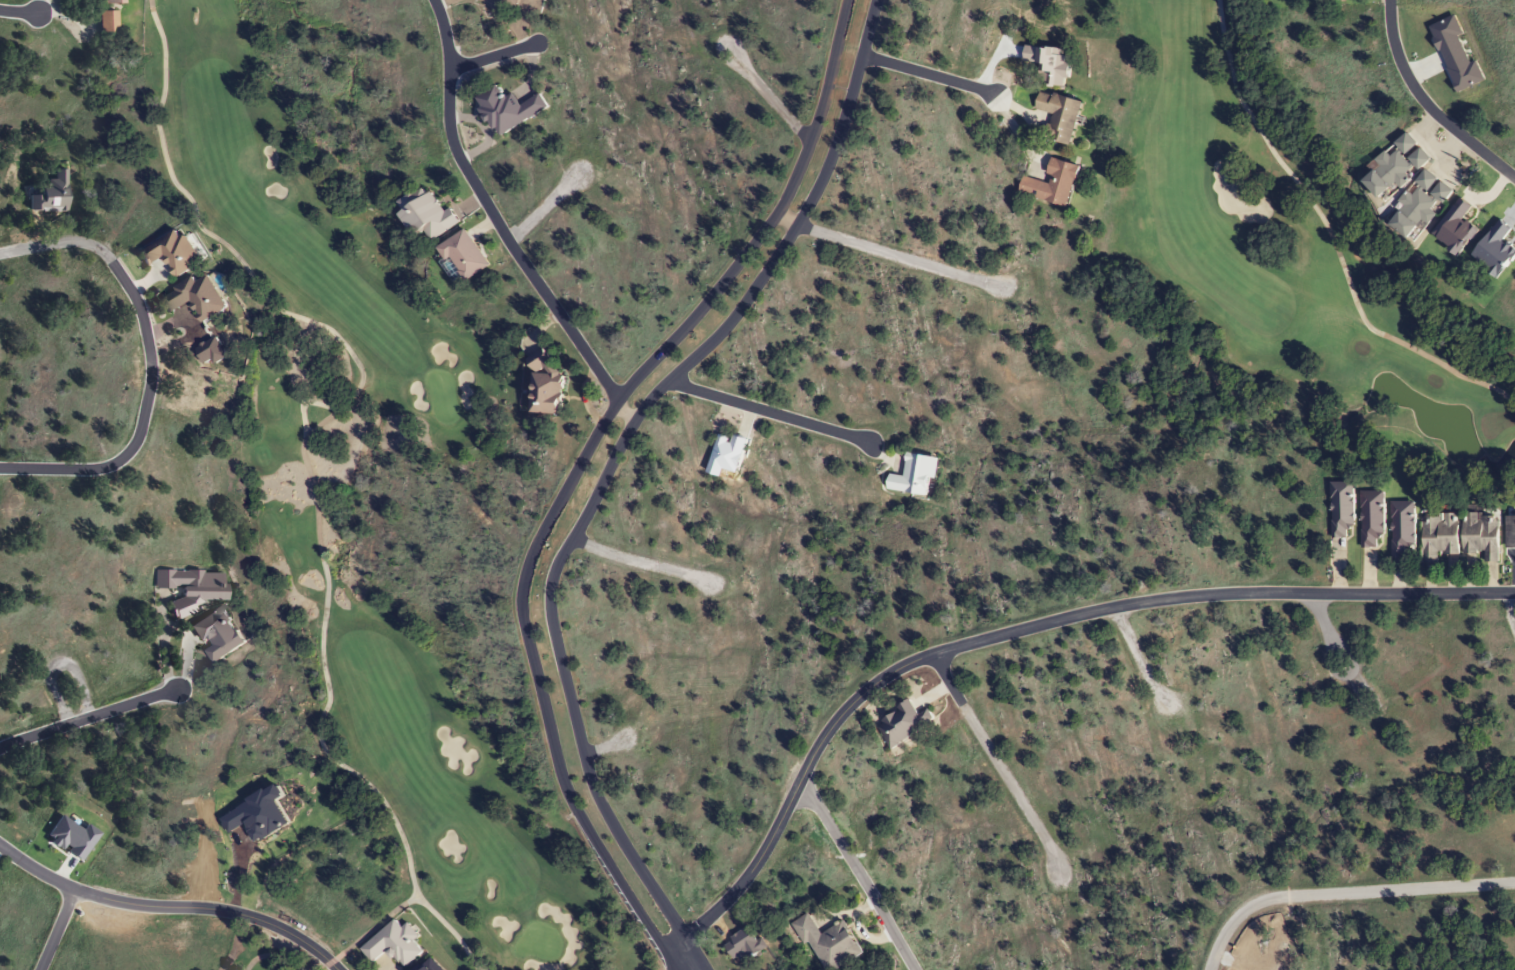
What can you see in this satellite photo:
building: (1321, 0)
building: (111, 2)
building: (508, 3)
road: (19, 12)
building: (105, 23)
road: (492, 55)
road: (927, 74)
road: (768, 97)
road: (1426, 105)
building: (506, 110)
building: (1058, 117)
building: (1394, 168)
building: (1052, 185)
building: (1419, 204)
road: (544, 205)
building: (424, 214)
road: (498, 225)
road: (885, 251)
building: (172, 252)
building: (462, 255)
park: (1275, 258)
building: (196, 297)
road: (151, 361)
building: (543, 383)
road: (769, 412)
road: (575, 467)
road: (609, 470)
building: (914, 475)
park: (294, 490)
building: (1341, 508)
building: (1371, 517)
building: (1401, 529)
building: (1509, 532)
building: (1480, 535)
building: (1437, 536)
road: (641, 562)
building: (189, 588)
road: (1016, 630)
building: (216, 633)
road: (1329, 634)
road: (1137, 655)
road: (68, 692)
road: (87, 718)
building: (902, 724)
road: (603, 748)
road: (996, 761)
road: (860, 875)
road: (1342, 892)
road: (171, 905)
road: (56, 930)
building: (828, 943)
building: (393, 944)
building: (744, 944)

